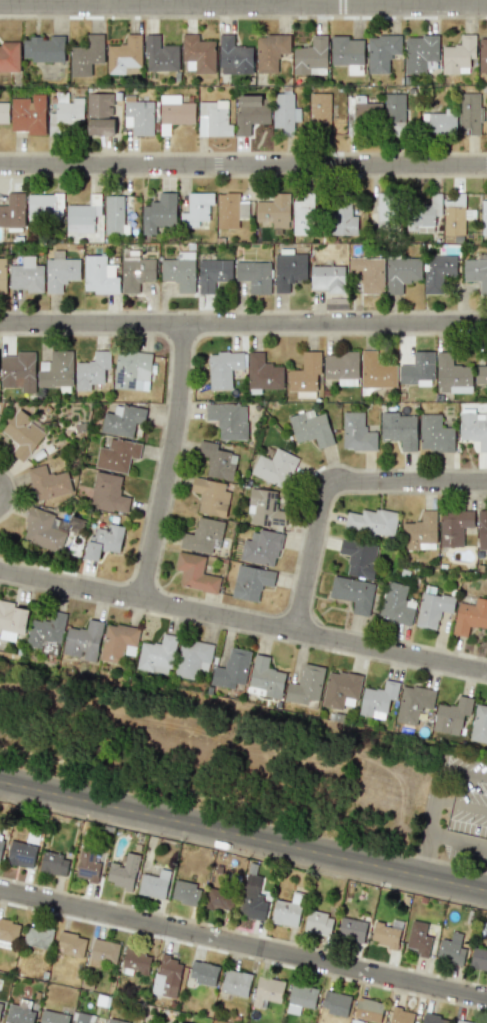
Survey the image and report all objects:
road: (243, 17)
building: (43, 49)
building: (270, 51)
building: (381, 52)
building: (419, 52)
building: (198, 53)
building: (347, 53)
building: (483, 54)
building: (86, 55)
building: (124, 55)
building: (160, 55)
building: (459, 55)
building: (234, 56)
building: (9, 57)
building: (311, 57)
building: (394, 107)
building: (319, 110)
building: (4, 111)
building: (174, 112)
building: (65, 113)
building: (251, 113)
building: (285, 113)
building: (366, 113)
building: (471, 113)
building: (28, 114)
building: (100, 114)
building: (138, 115)
building: (213, 119)
building: (439, 123)
road: (243, 153)
road: (243, 165)
building: (44, 207)
building: (196, 209)
building: (13, 210)
building: (230, 210)
building: (385, 210)
building: (274, 212)
building: (113, 213)
building: (159, 213)
building: (302, 214)
building: (422, 215)
building: (484, 217)
building: (79, 218)
building: (342, 221)
building: (289, 270)
building: (60, 271)
building: (438, 271)
building: (476, 272)
building: (136, 273)
building: (179, 273)
building: (368, 273)
building: (401, 273)
building: (212, 274)
building: (2, 275)
building: (27, 275)
building: (99, 275)
building: (254, 276)
building: (328, 279)
road: (243, 323)
building: (224, 368)
building: (342, 368)
building: (56, 370)
building: (132, 370)
building: (418, 370)
building: (18, 371)
building: (91, 371)
building: (376, 372)
building: (263, 373)
building: (305, 375)
building: (452, 375)
building: (481, 375)
building: (121, 419)
building: (228, 419)
building: (474, 424)
building: (311, 428)
building: (400, 429)
building: (357, 432)
building: (22, 434)
building: (435, 434)
building: (116, 455)
building: (217, 461)
road: (170, 463)
building: (275, 468)
building: (48, 482)
road: (329, 482)
building: (107, 493)
building: (211, 496)
building: (265, 508)
building: (372, 521)
building: (454, 527)
building: (42, 530)
building: (482, 530)
building: (420, 532)
building: (202, 535)
building: (103, 541)
building: (261, 548)
building: (359, 558)
building: (195, 573)
building: (250, 582)
building: (353, 593)
building: (395, 604)
building: (432, 607)
building: (470, 616)
building: (12, 620)
road: (243, 623)
building: (45, 629)
building: (83, 641)
building: (118, 643)
building: (157, 655)
building: (193, 658)
building: (231, 669)
building: (265, 678)
building: (306, 686)
building: (340, 690)
building: (378, 700)
building: (413, 703)
building: (451, 716)
building: (479, 723)
road: (467, 773)
road: (438, 802)
road: (463, 803)
road: (243, 835)
road: (458, 842)
building: (0, 844)
building: (21, 854)
road: (424, 855)
building: (53, 864)
building: (87, 865)
building: (123, 872)
building: (154, 884)
building: (186, 893)
building: (218, 893)
building: (251, 903)
building: (287, 911)
building: (318, 923)
building: (8, 929)
building: (351, 929)
building: (386, 935)
building: (37, 937)
building: (418, 938)
building: (71, 944)
road: (243, 944)
building: (451, 950)
building: (103, 953)
building: (478, 958)
building: (135, 960)
building: (203, 973)
building: (167, 977)
building: (235, 983)
building: (267, 990)
building: (300, 998)
building: (335, 1003)
building: (0, 1004)
building: (368, 1010)
building: (19, 1015)
building: (401, 1016)
building: (53, 1017)
building: (434, 1019)
building: (116, 1021)
building: (461, 1021)
building: (76, 1022)

